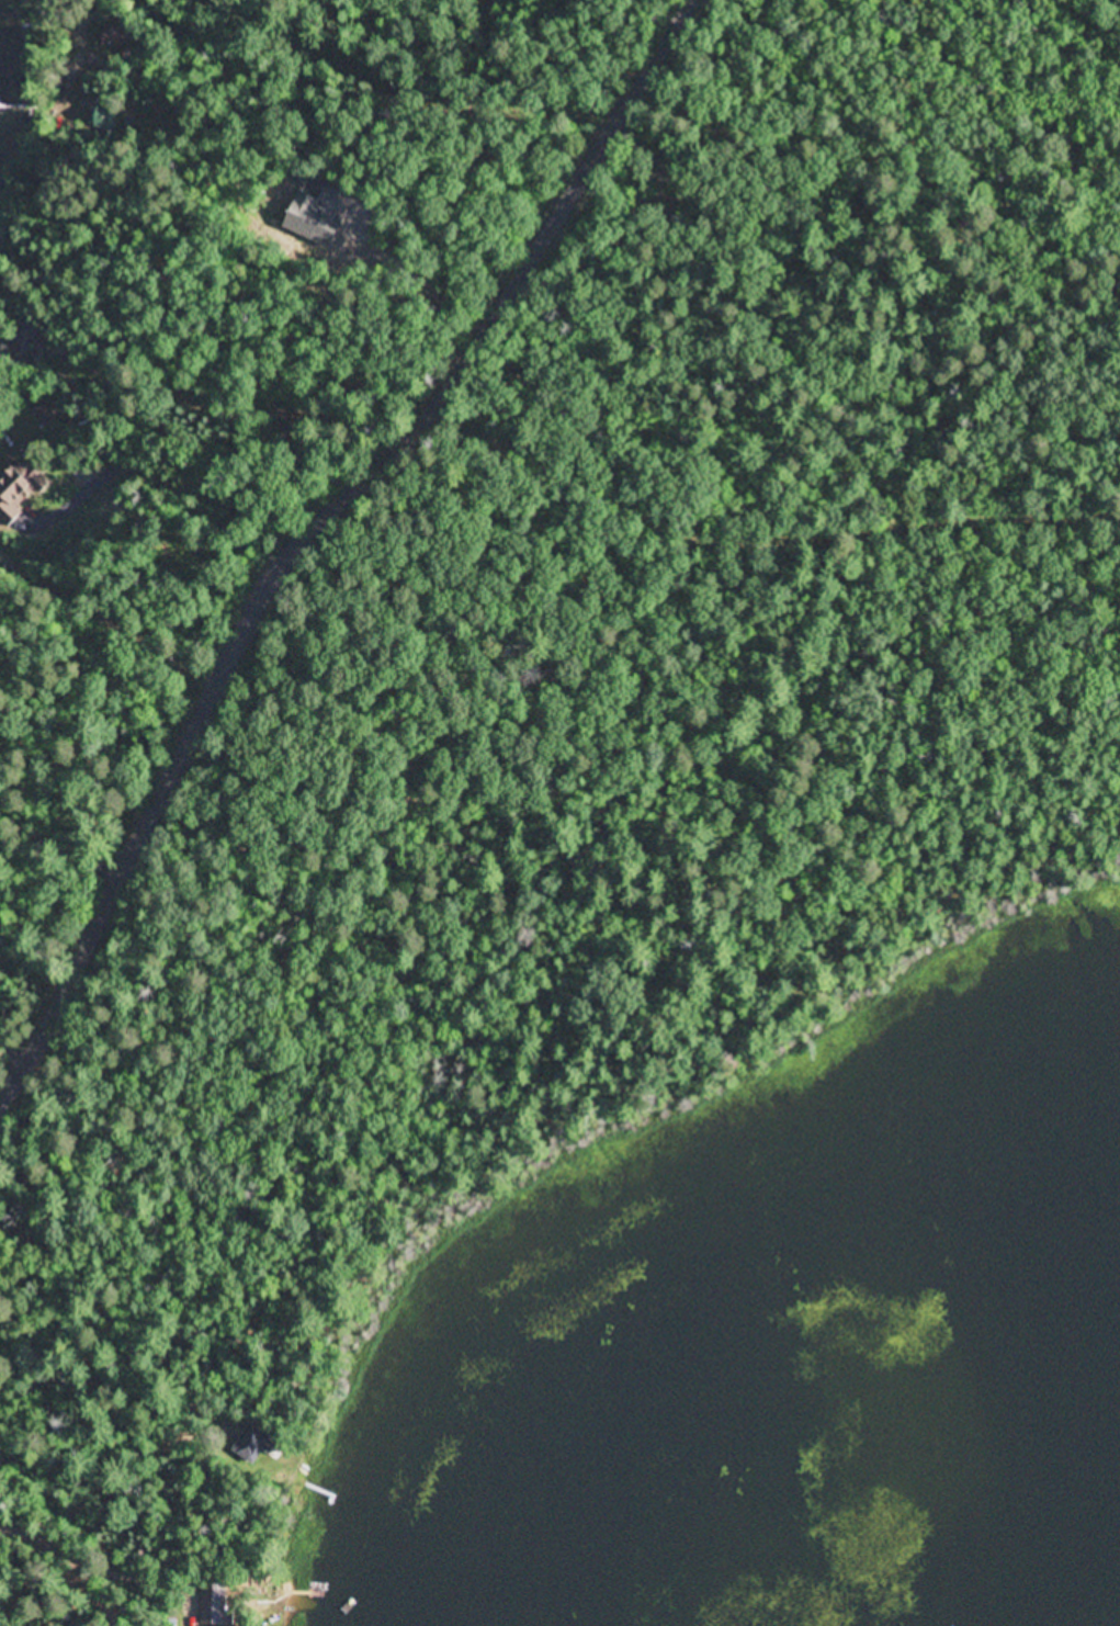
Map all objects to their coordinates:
building: (109, 36)
road: (329, 182)
building: (46, 416)
building: (20, 492)
road: (316, 532)
building: (253, 1444)
road: (75, 1567)
building: (213, 1604)

